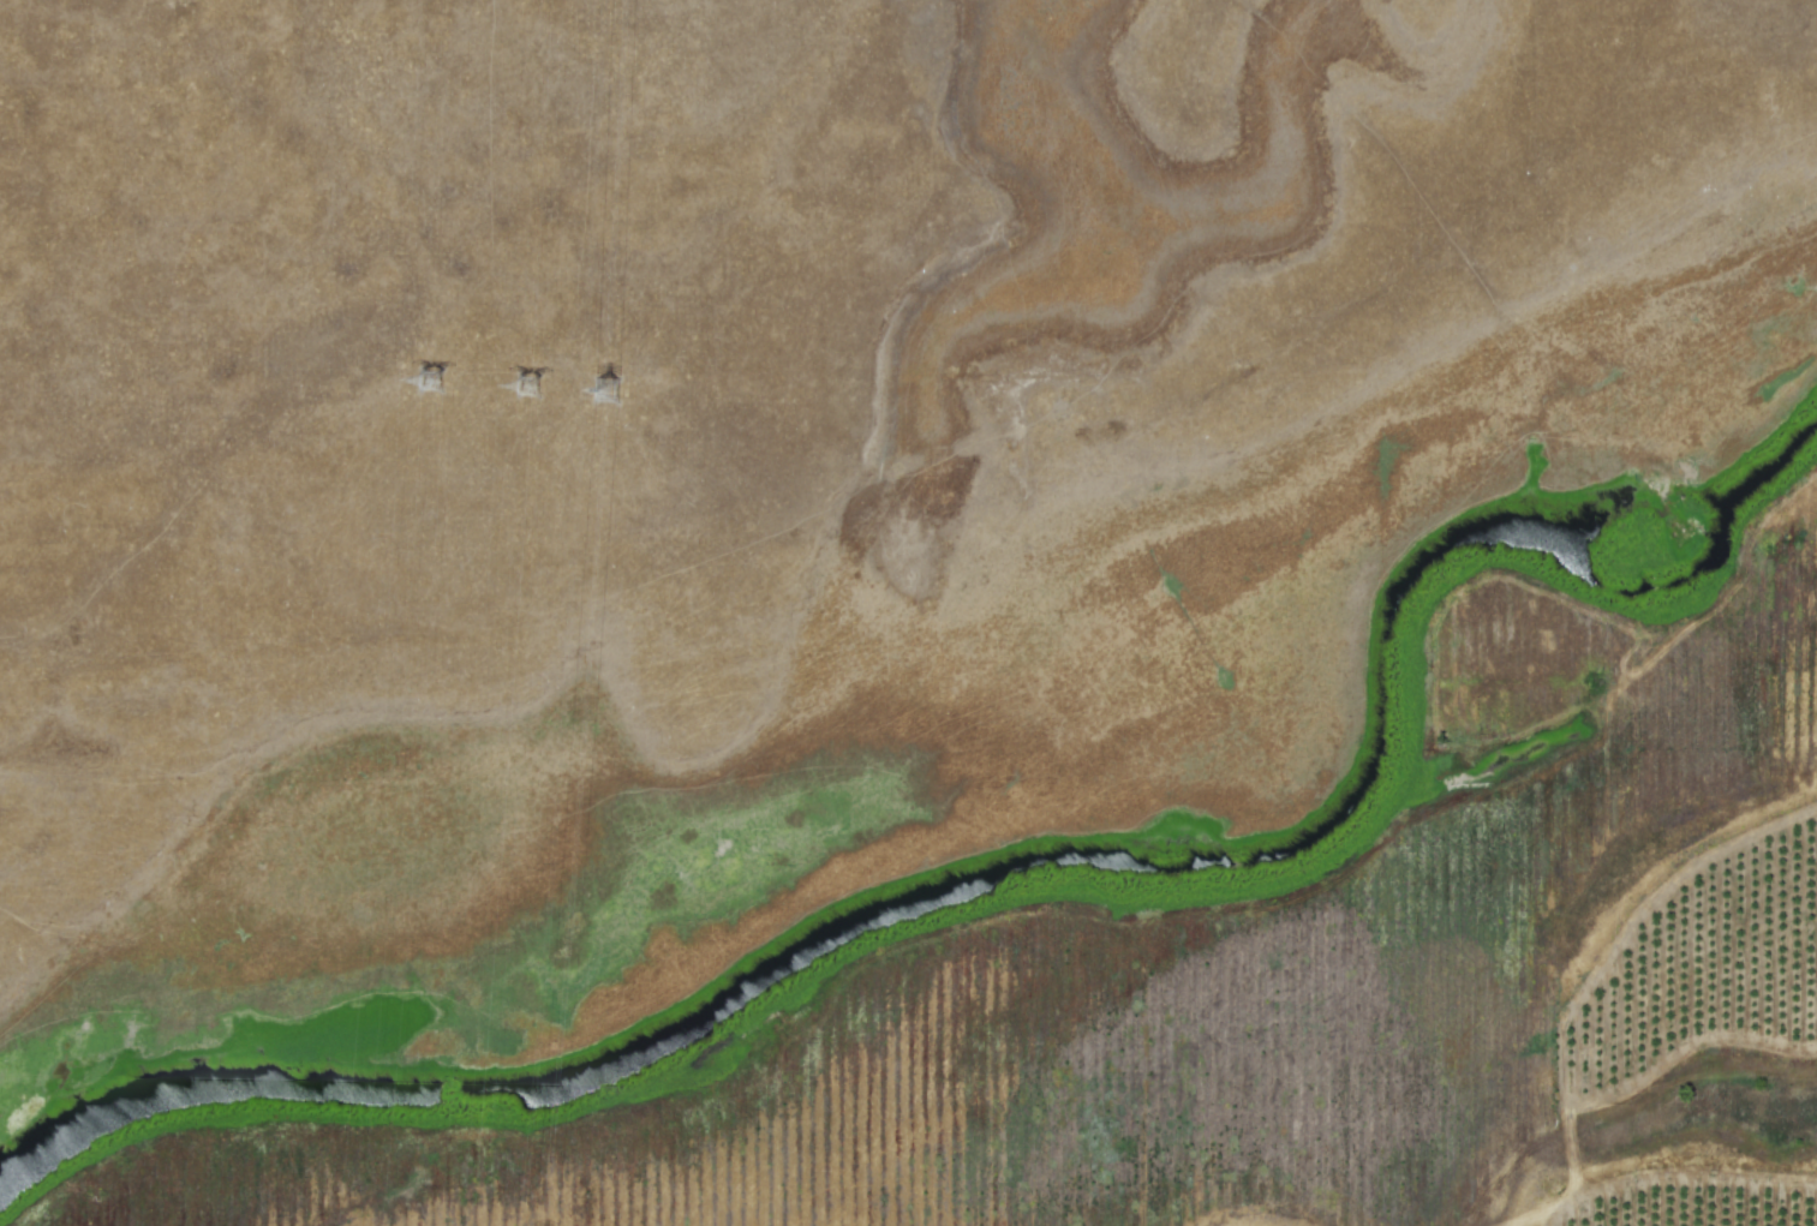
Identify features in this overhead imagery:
power tower: (437, 382)
power tower: (521, 387)
power tower: (615, 393)

